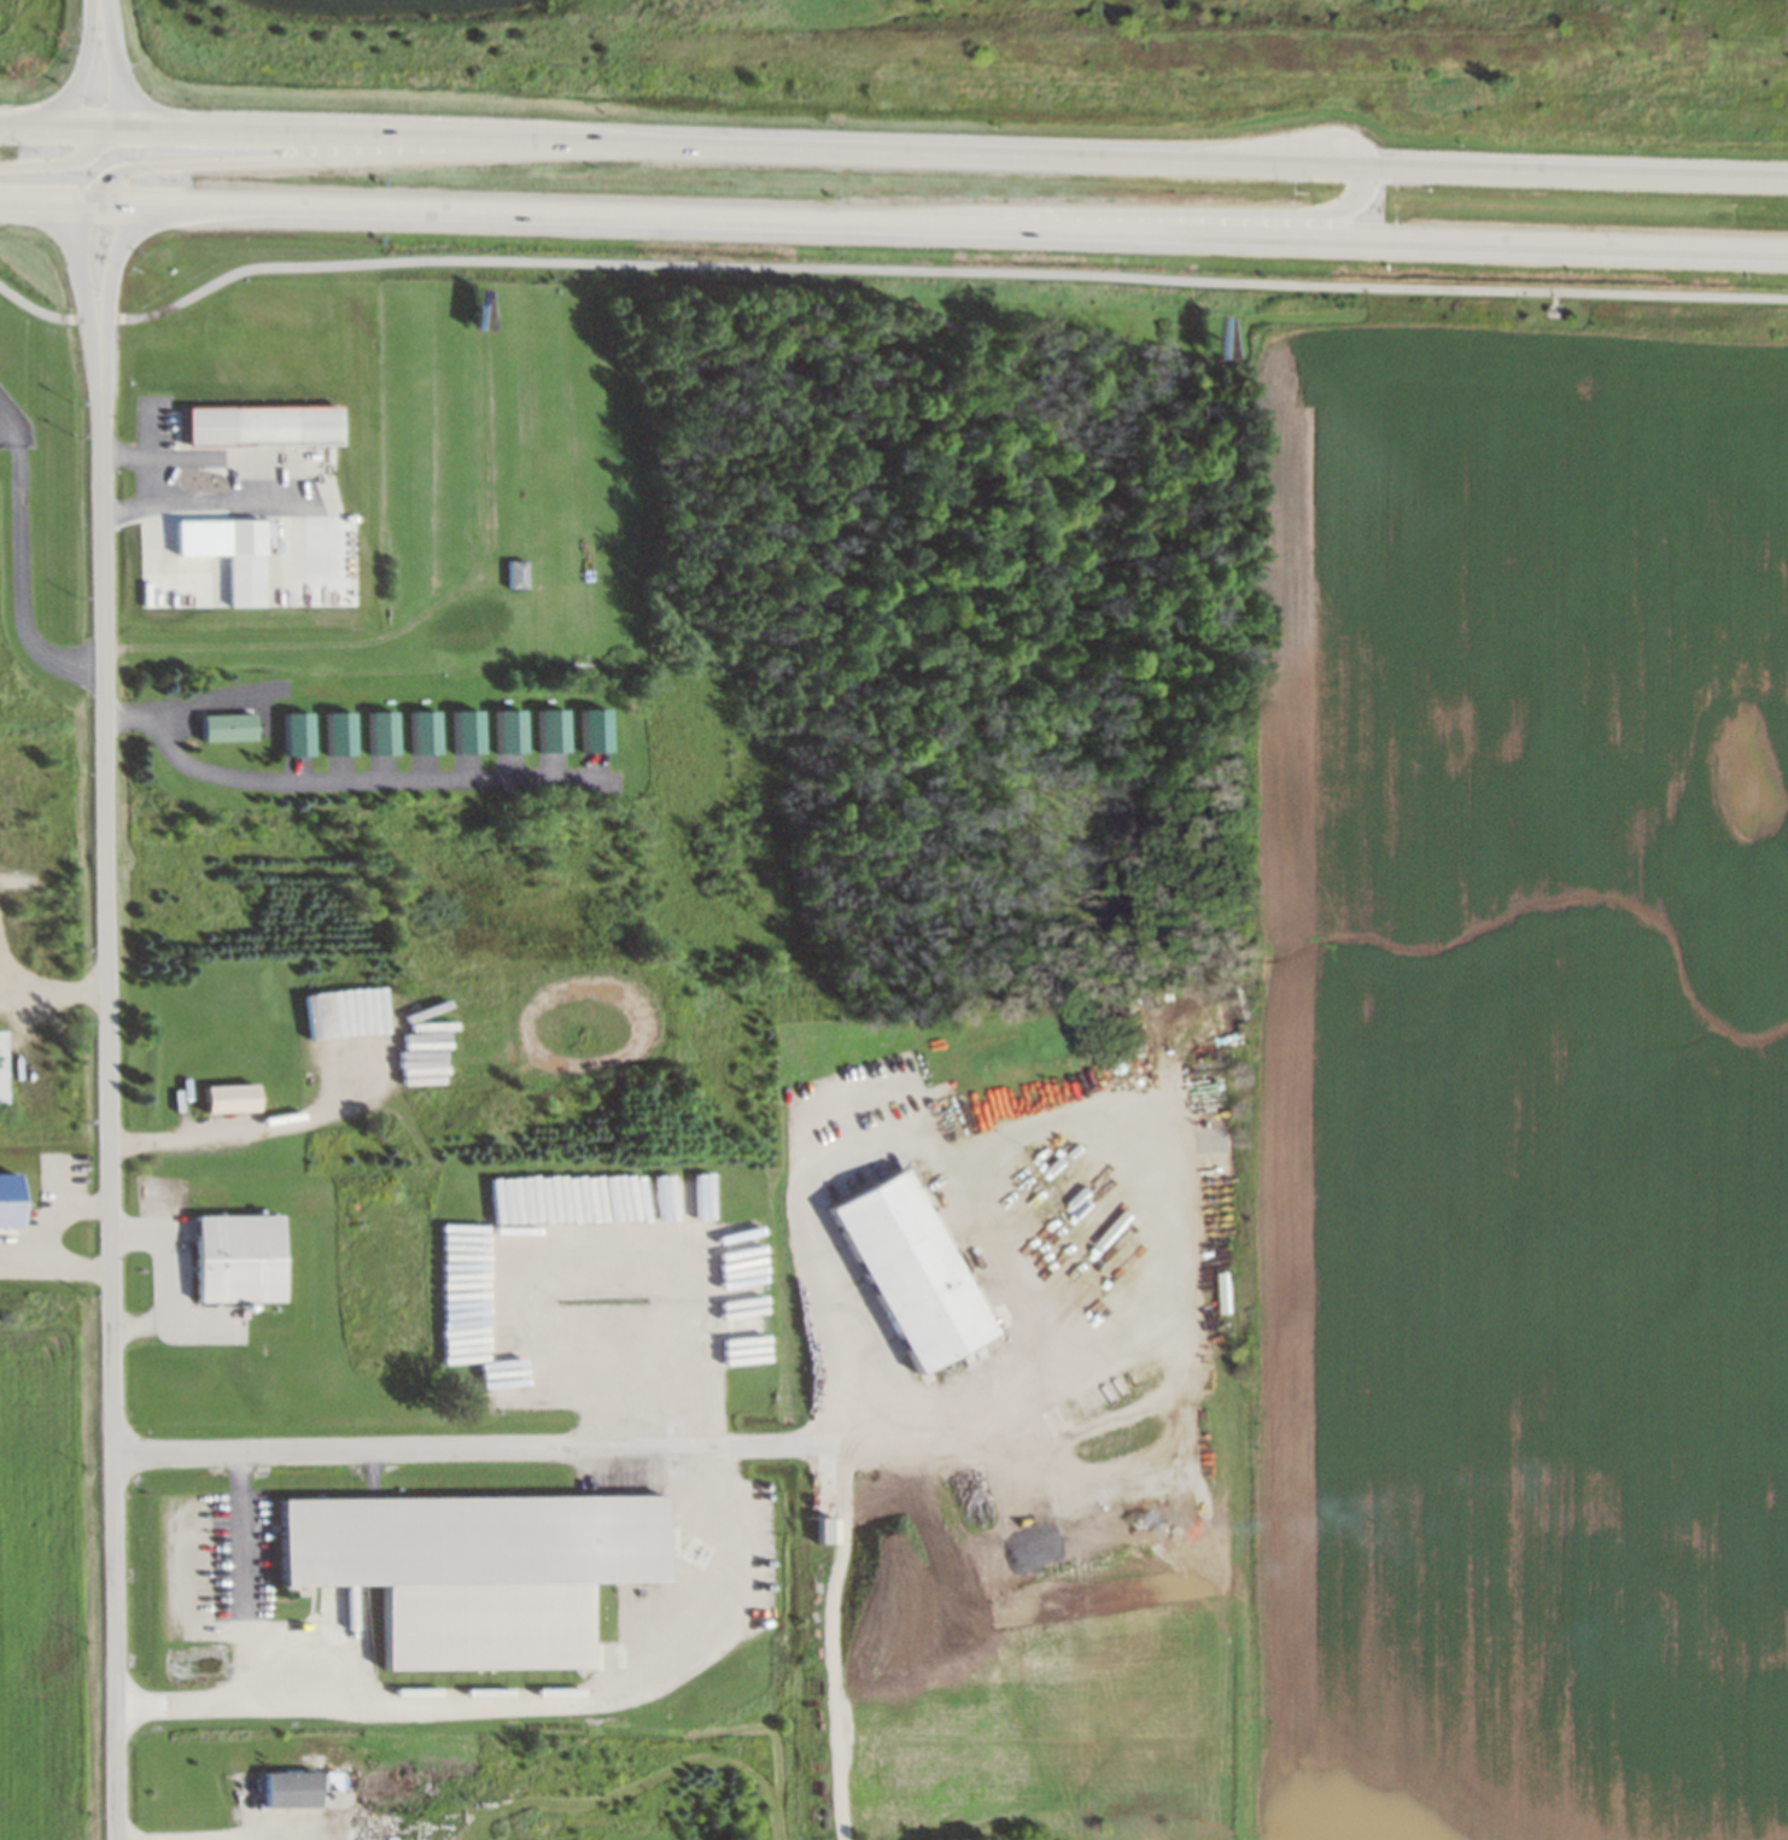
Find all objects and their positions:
road: (100, 4)
quarry: (1086, 37)
road: (118, 68)
road: (78, 71)
road: (894, 151)
road: (338, 157)
road: (57, 159)
road: (1079, 212)
road: (894, 223)
road: (115, 257)
road: (80, 265)
road: (883, 273)
building: (255, 425)
building: (235, 561)
building: (510, 573)
building: (223, 726)
building: (503, 729)
building: (545, 729)
building: (588, 729)
building: (457, 730)
building: (373, 731)
building: (414, 731)
building: (287, 732)
building: (329, 732)
building: (4, 1067)
road: (111, 1080)
building: (236, 1098)
road: (258, 1125)
road: (957, 1193)
building: (243, 1257)
building: (898, 1269)
building: (1221, 1292)
road: (449, 1448)
building: (819, 1530)
building: (464, 1570)
road: (244, 1573)
road: (510, 1695)
building: (293, 1788)
road: (236, 1836)

